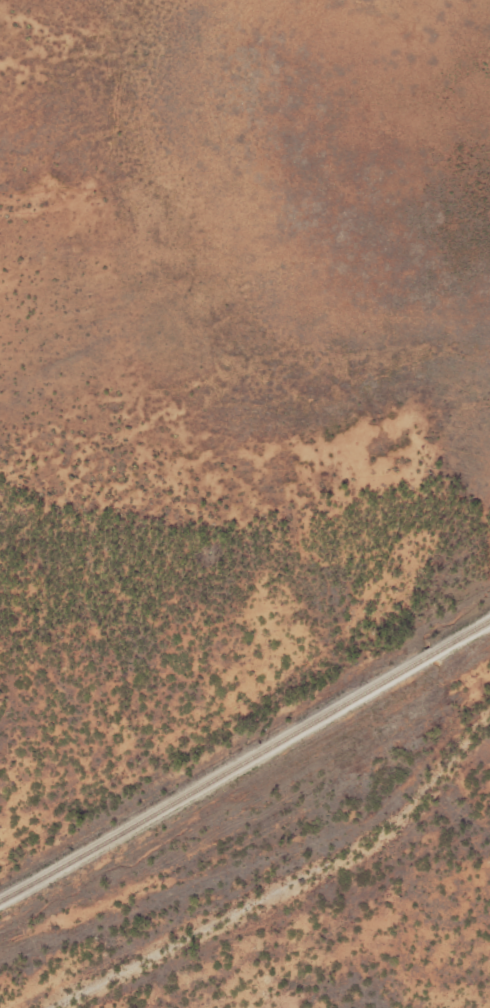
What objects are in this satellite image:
railway: (245, 762)
road: (285, 882)

